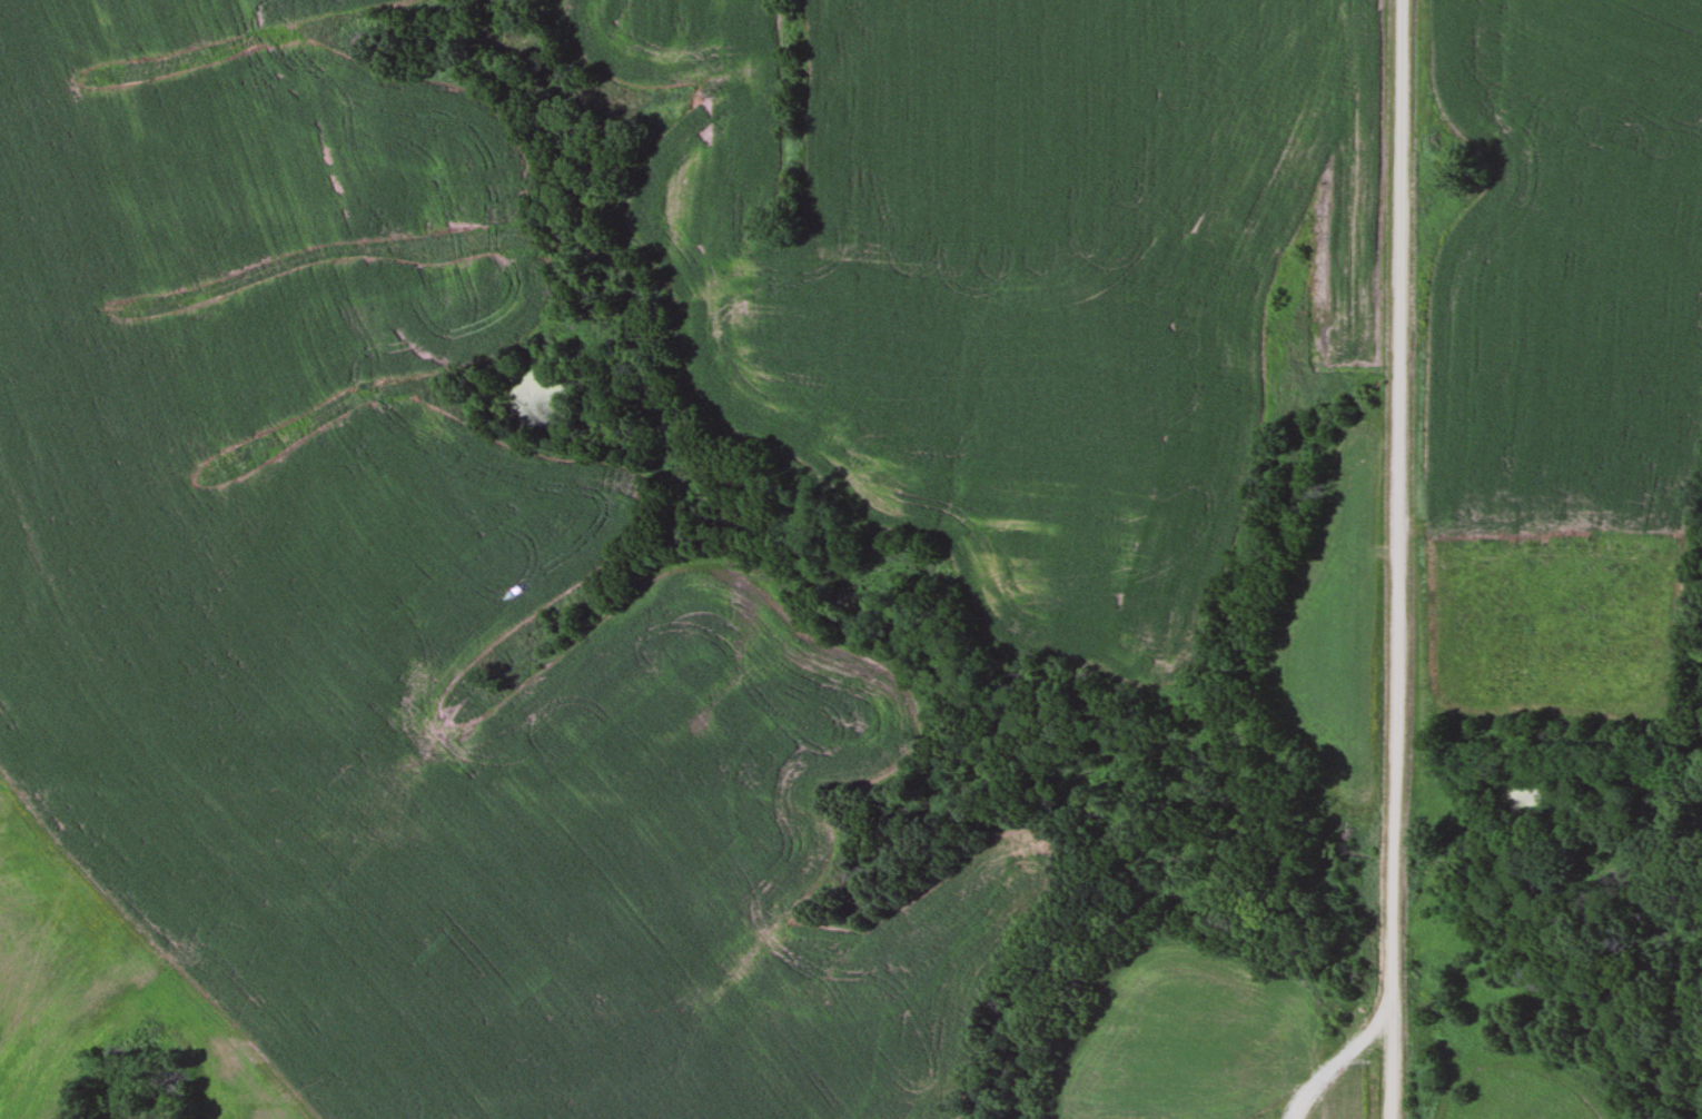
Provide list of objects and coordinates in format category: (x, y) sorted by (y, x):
road: (1397, 559)

